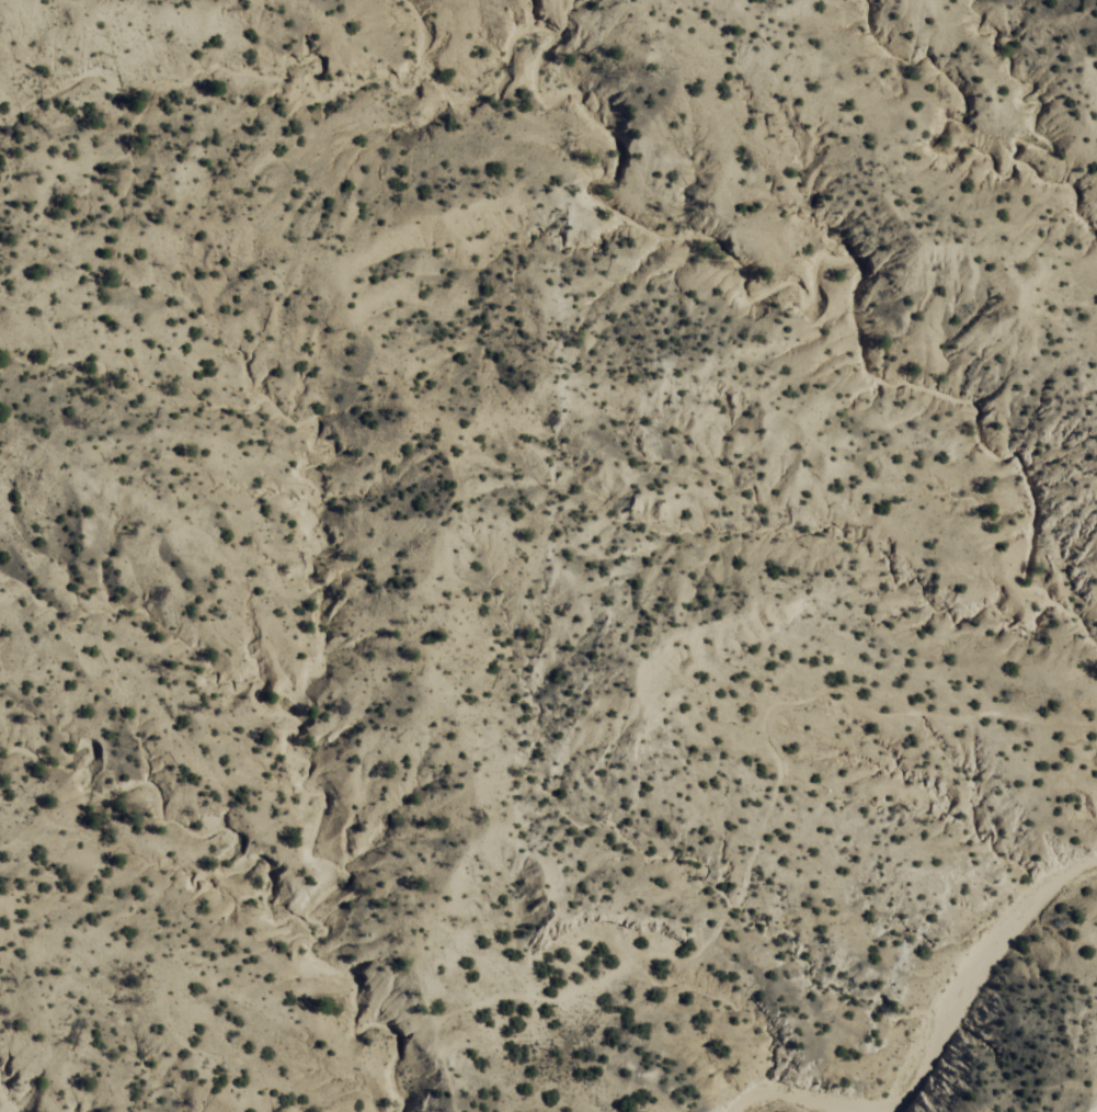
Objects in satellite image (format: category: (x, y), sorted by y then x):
road: (926, 1010)

